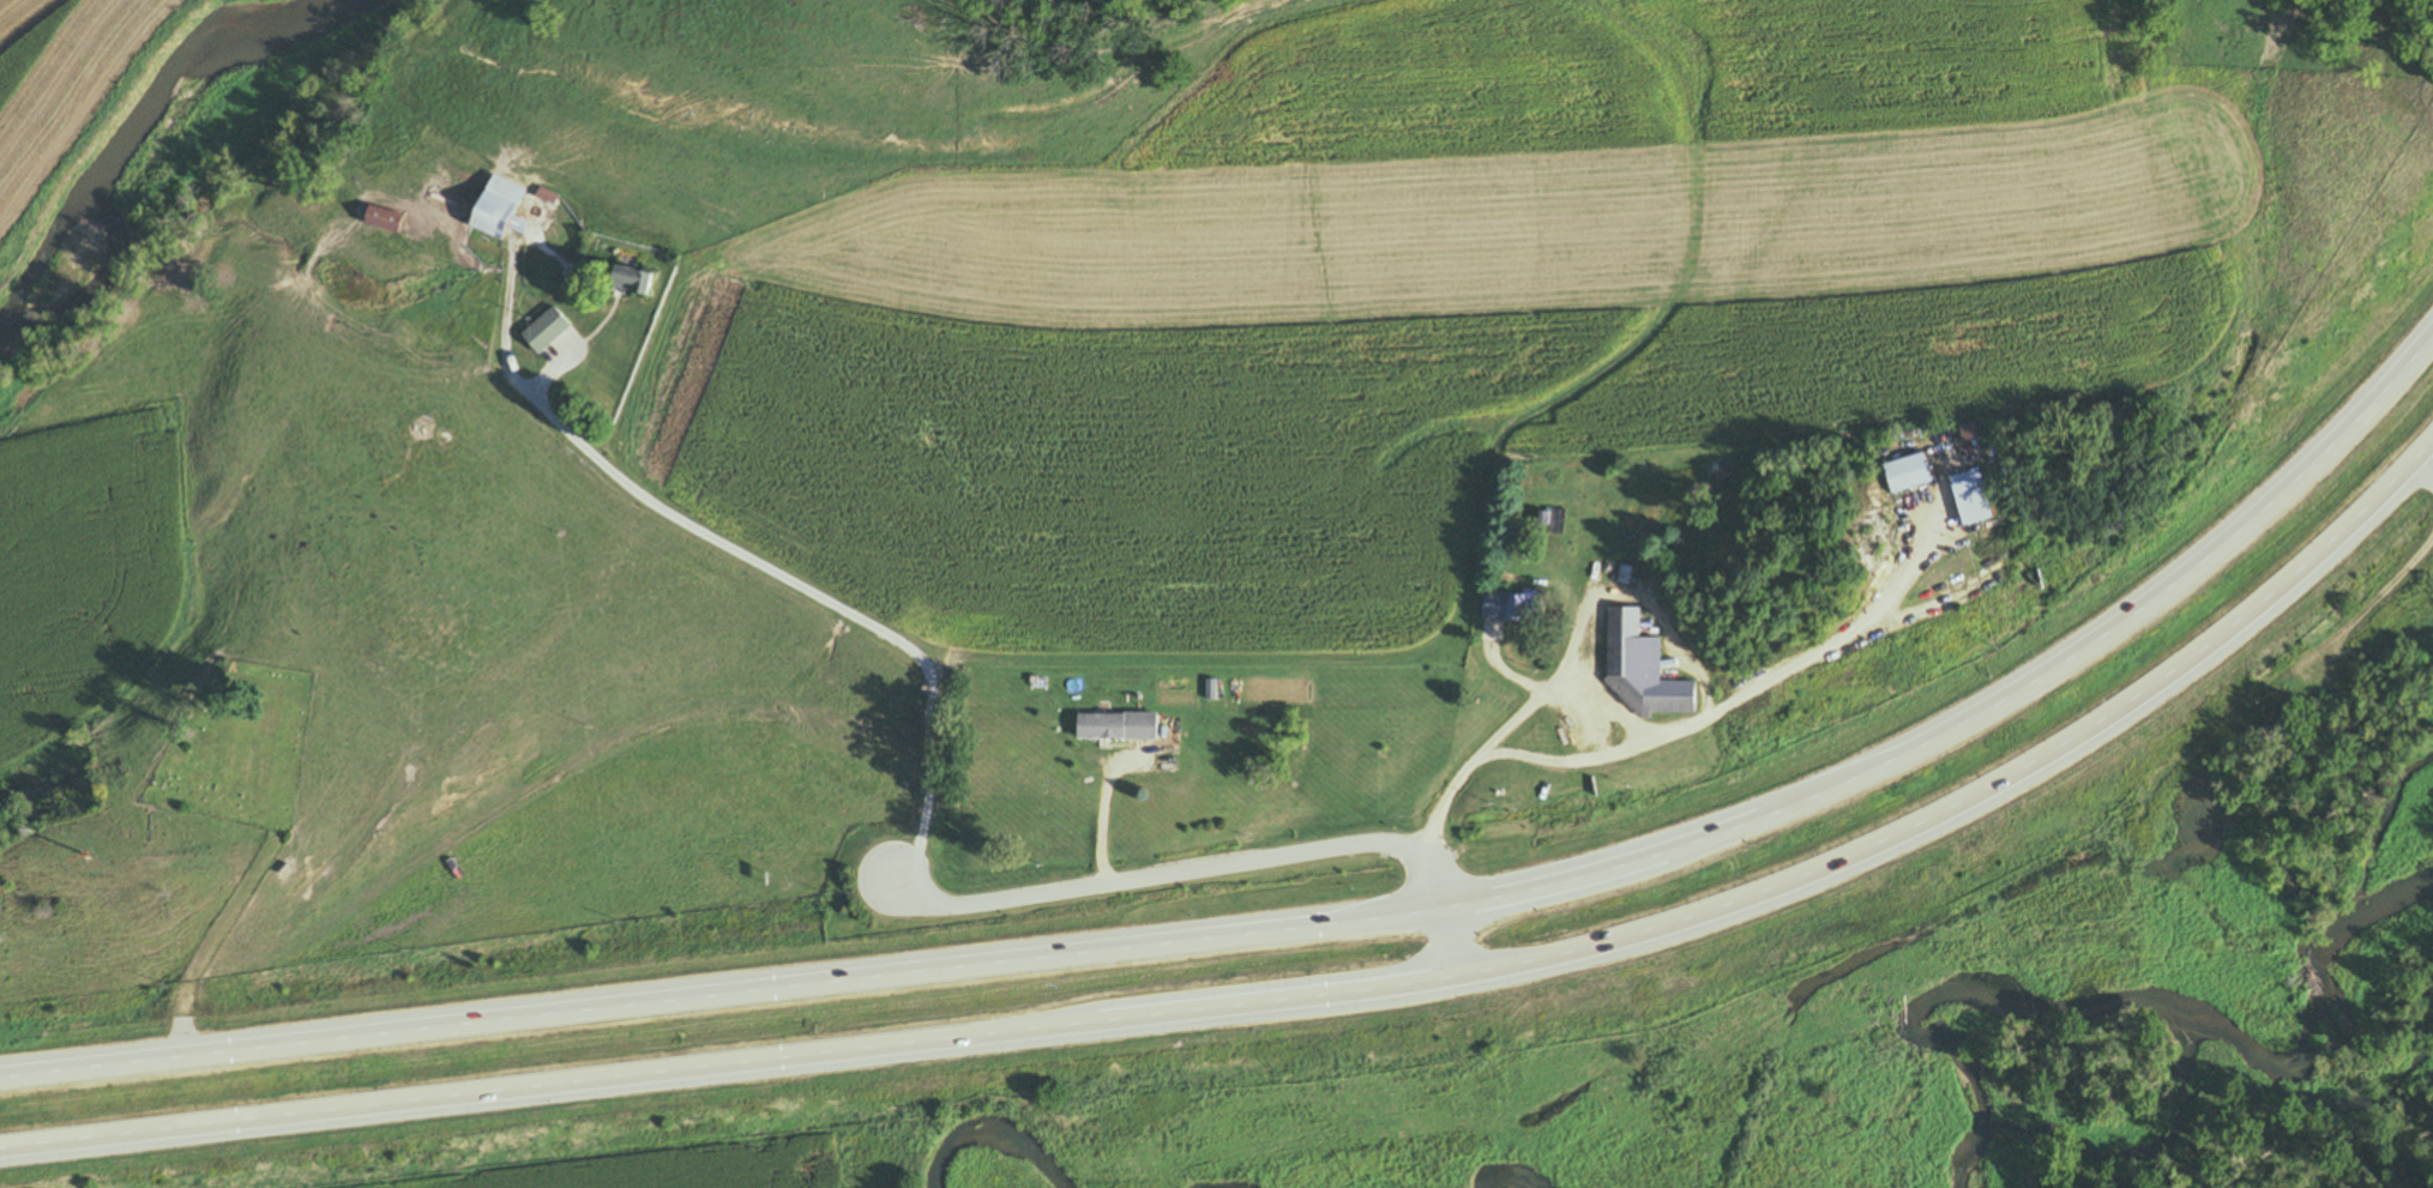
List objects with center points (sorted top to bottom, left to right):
river: (125, 157)
building: (500, 209)
building: (389, 221)
building: (634, 281)
building: (547, 331)
road: (2426, 470)
building: (1914, 475)
building: (1977, 497)
road: (747, 557)
building: (1516, 605)
road: (1565, 650)
building: (1642, 668)
road: (2282, 682)
road: (1759, 694)
building: (1119, 726)
park: (235, 748)
road: (1104, 801)
road: (1215, 864)
road: (1302, 929)
road: (215, 945)
road: (1291, 999)

